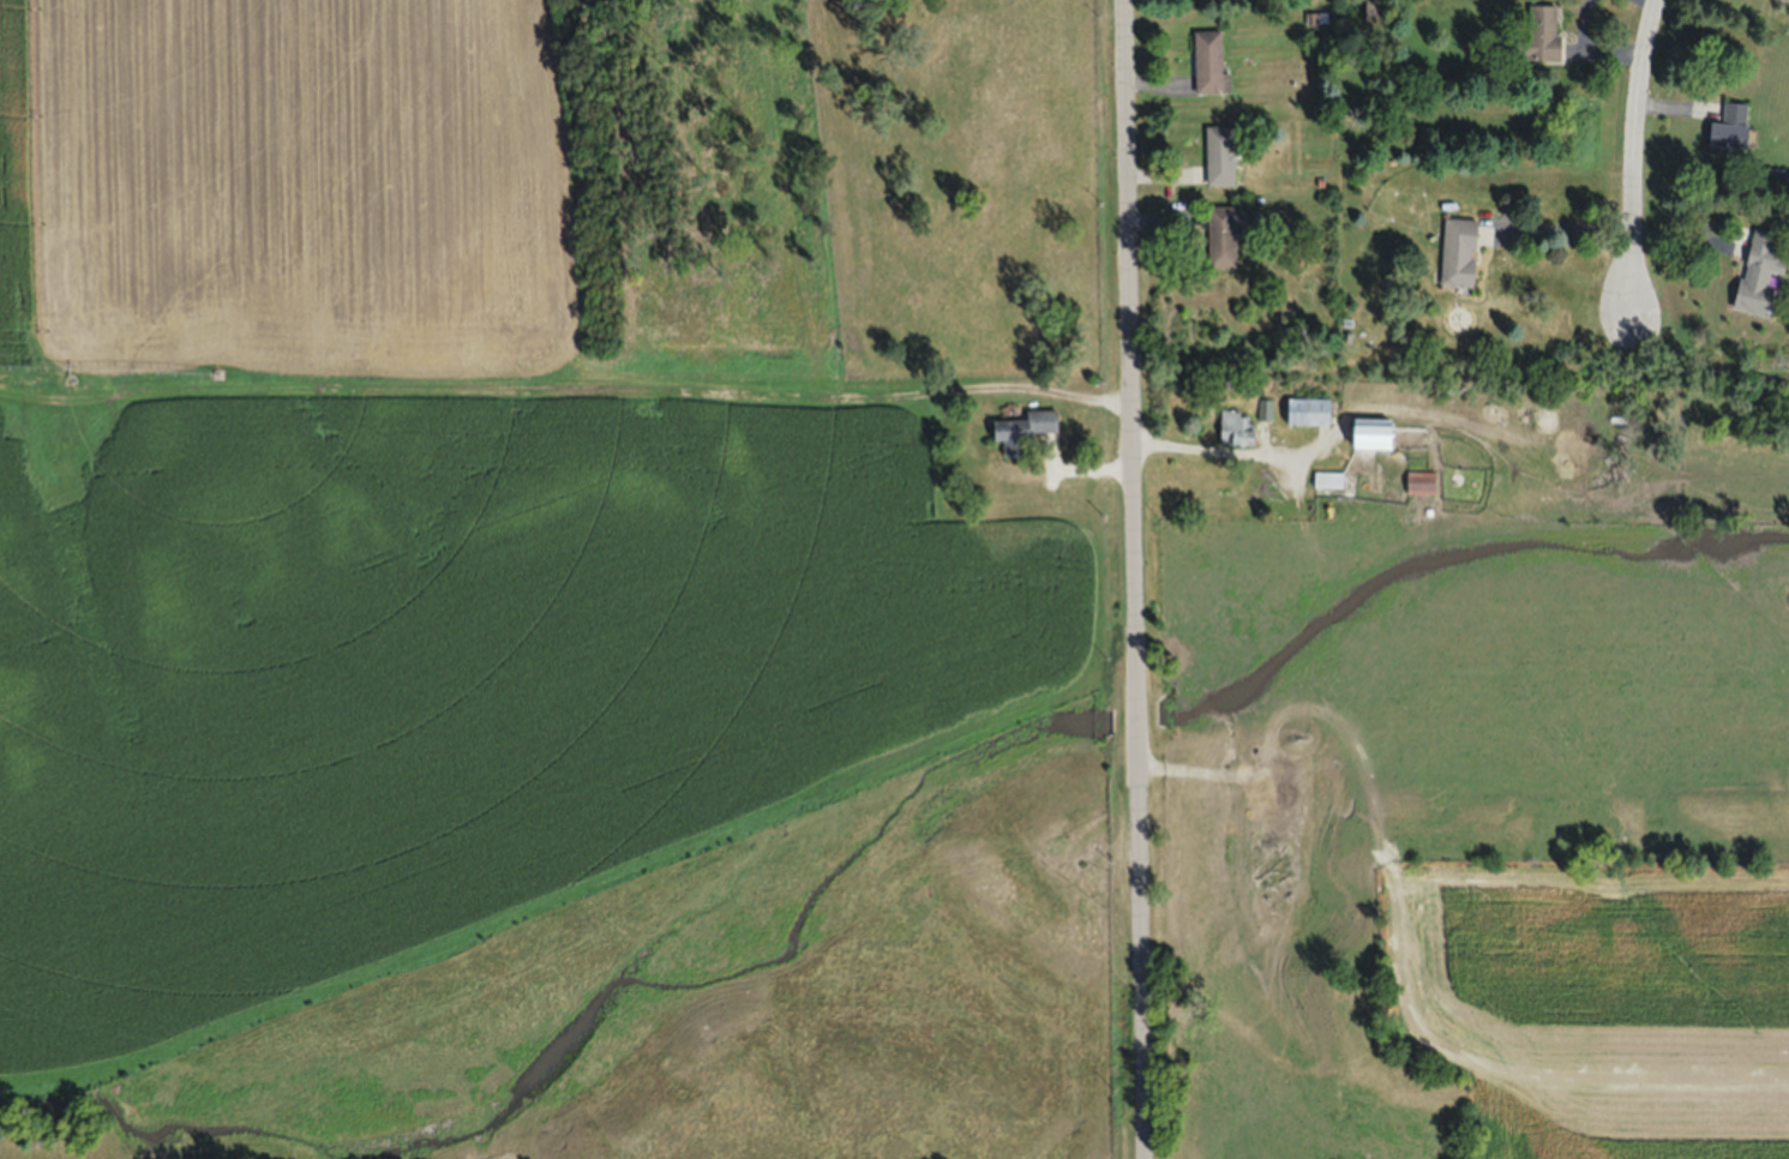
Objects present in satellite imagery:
building: (1544, 26)
building: (1211, 61)
building: (1733, 127)
road: (1633, 152)
building: (1221, 155)
building: (1777, 179)
road: (1559, 226)
building: (1223, 236)
building: (1460, 252)
building: (1764, 272)
building: (1310, 410)
building: (1029, 425)
building: (1237, 428)
building: (1375, 433)
road: (1233, 450)
building: (1332, 479)
building: (1422, 481)
road: (1134, 579)
building: (1134, 715)
crop: (1476, 822)

